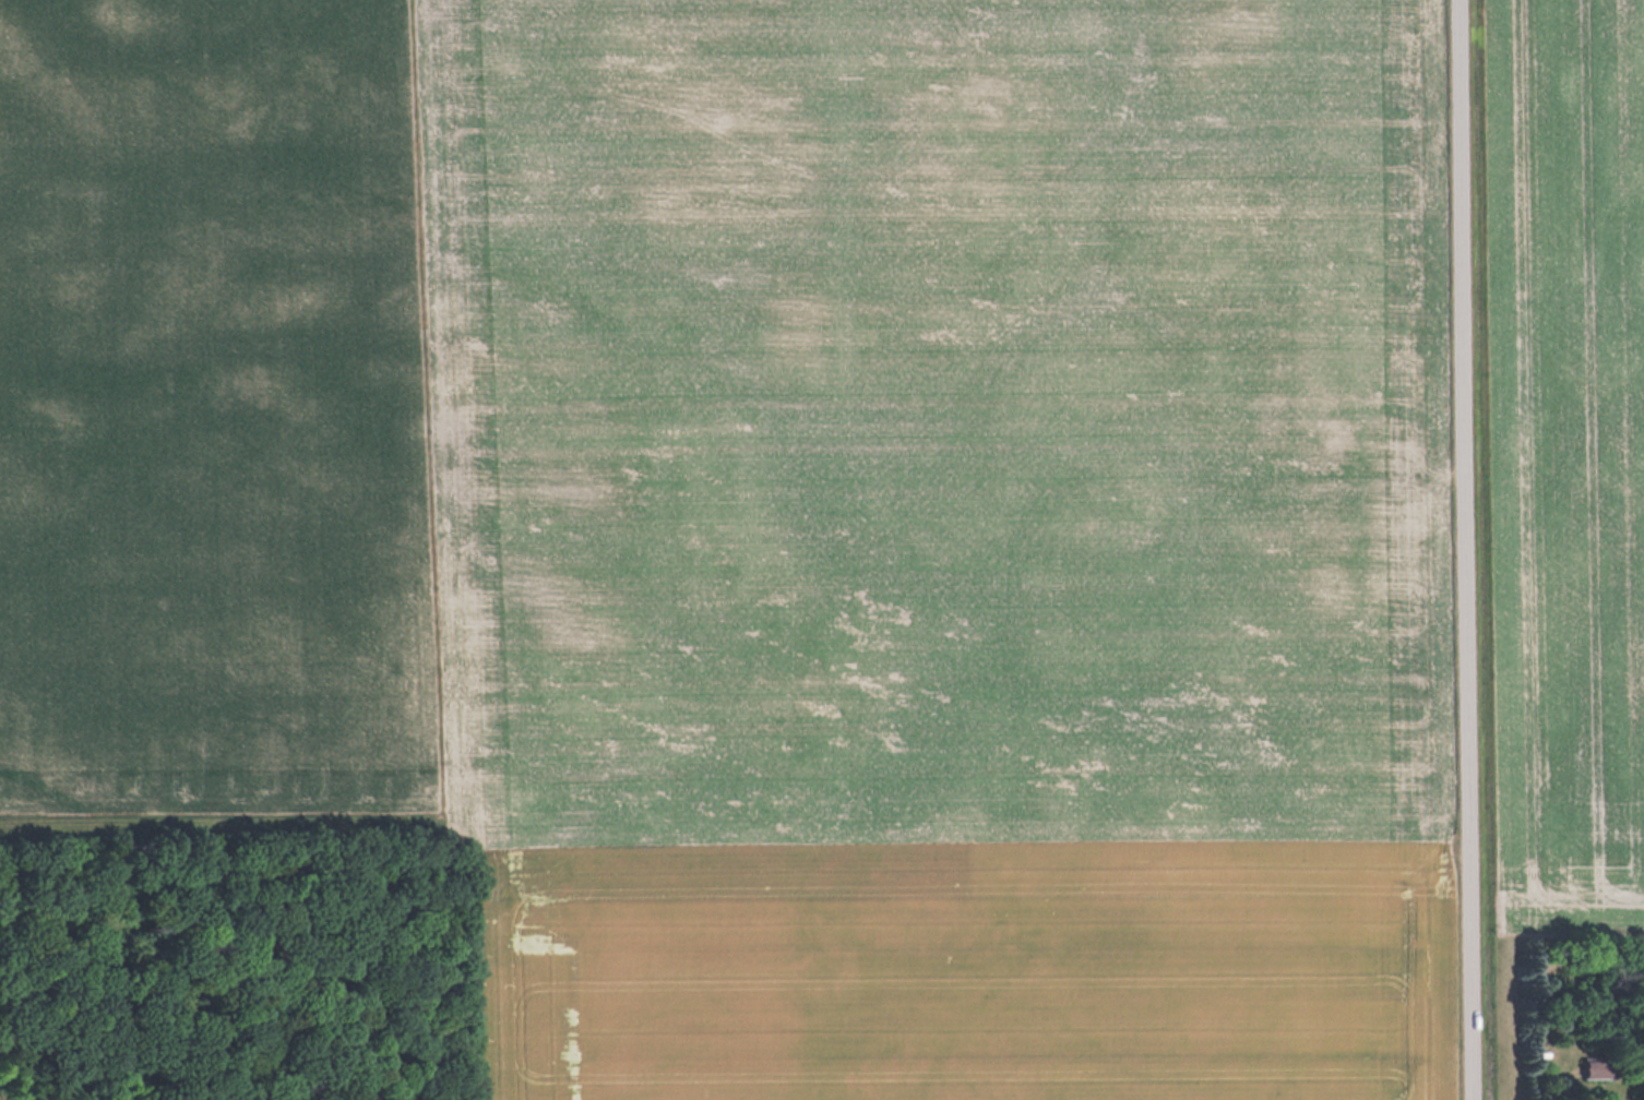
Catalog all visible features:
road: (1467, 550)
building: (1598, 1068)

